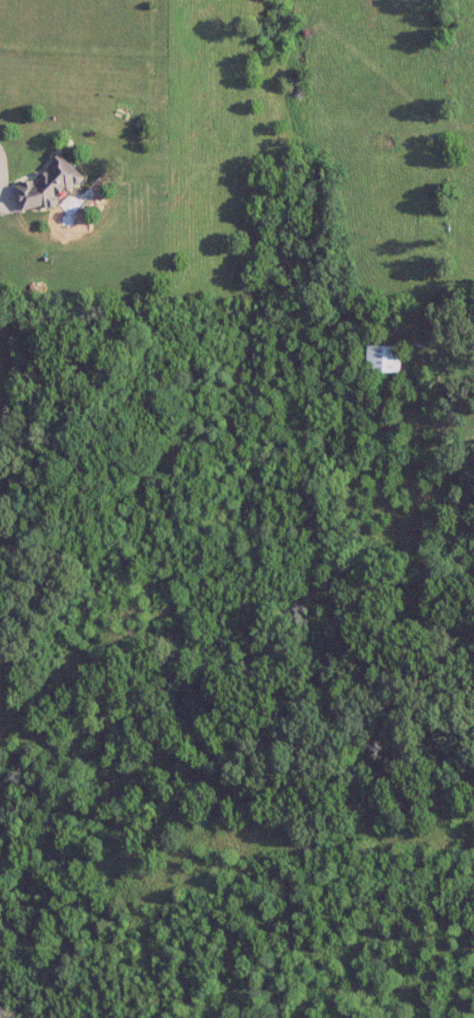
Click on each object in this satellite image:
road: (1, 167)
building: (47, 185)
building: (383, 359)

